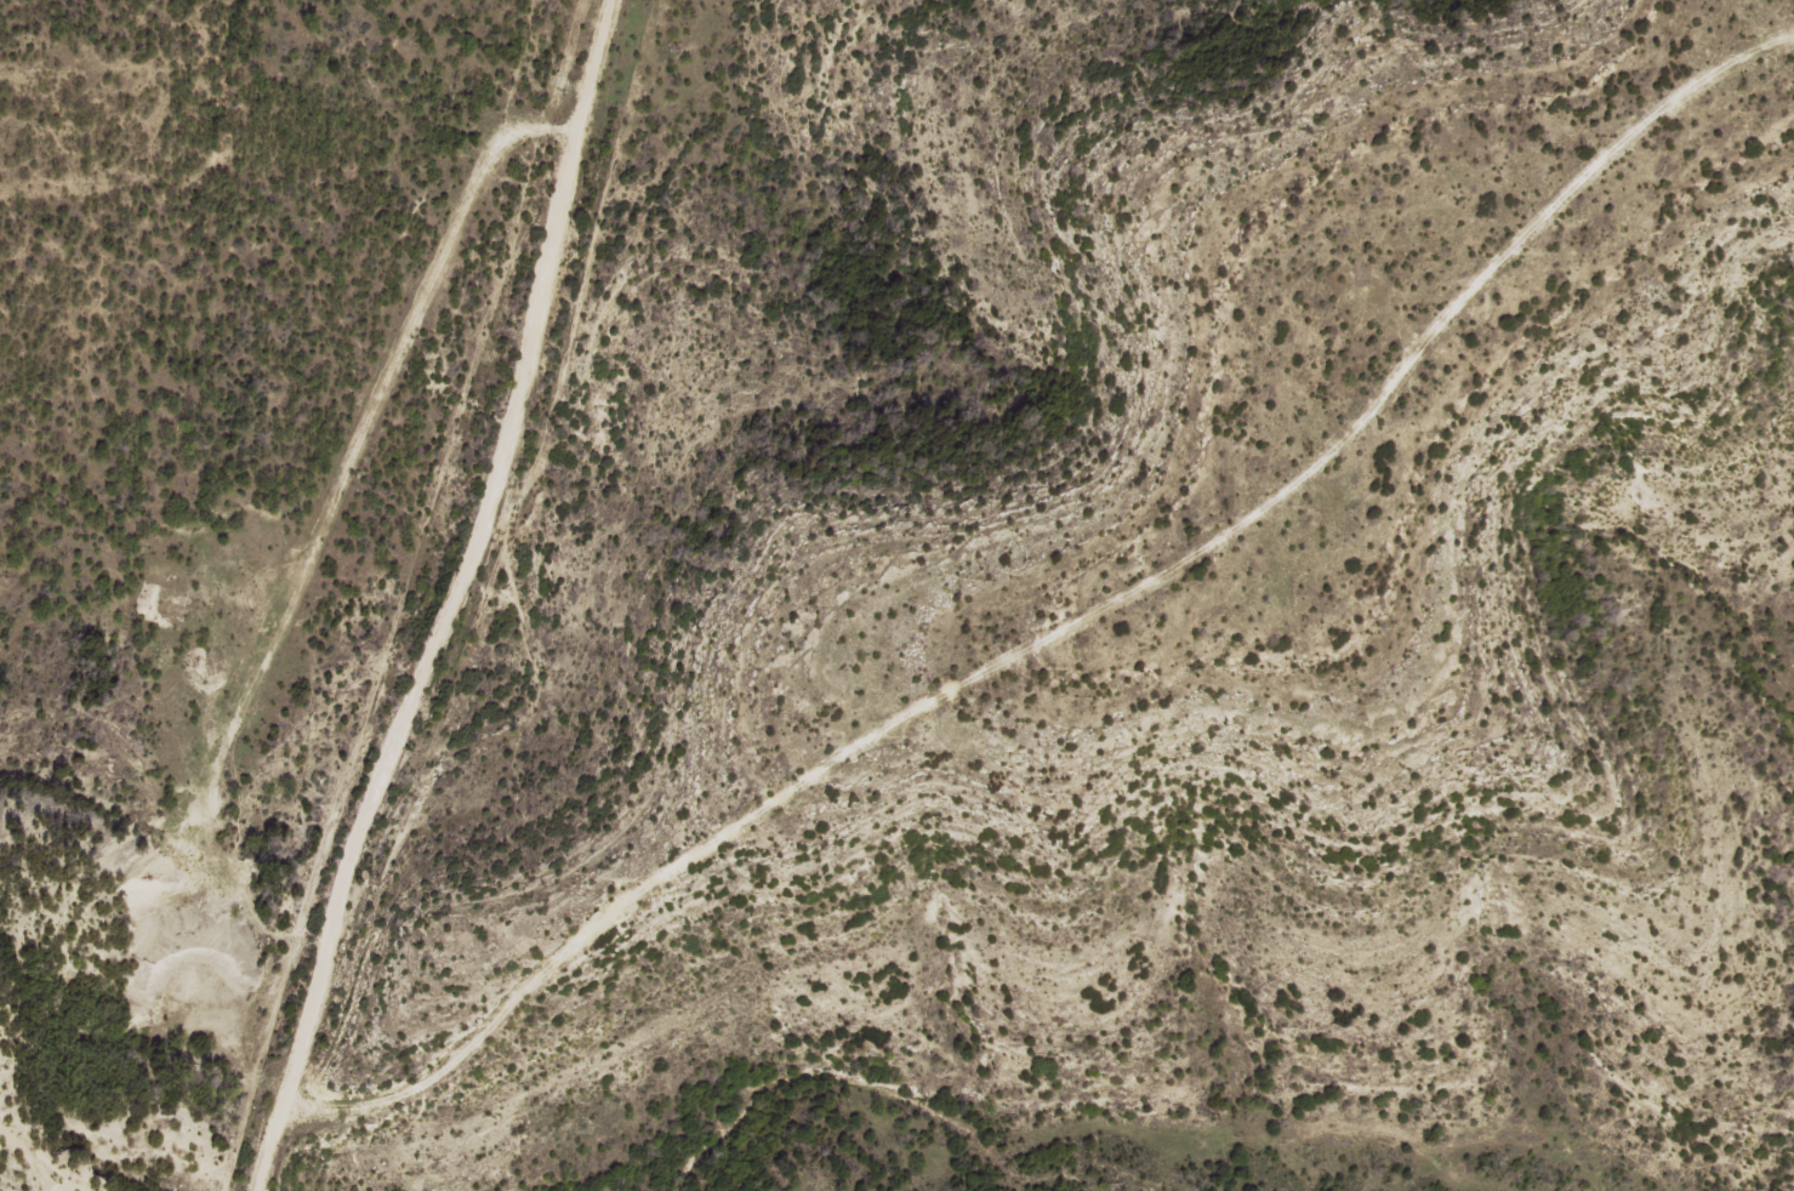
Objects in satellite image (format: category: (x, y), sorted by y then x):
road: (457, 602)

